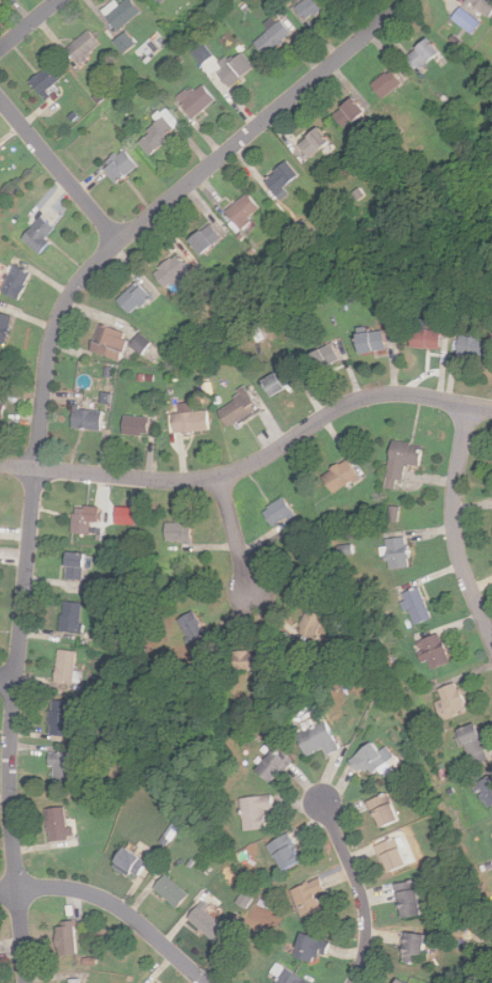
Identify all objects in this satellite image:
building: (161, 0)
building: (153, 2)
building: (482, 6)
building: (309, 8)
building: (120, 12)
building: (467, 20)
road: (29, 24)
building: (272, 38)
building: (124, 42)
building: (82, 47)
building: (422, 53)
building: (235, 67)
building: (46, 78)
building: (386, 83)
building: (196, 100)
building: (348, 112)
building: (157, 133)
building: (312, 142)
building: (118, 165)
road: (60, 171)
building: (280, 179)
building: (243, 210)
building: (44, 234)
building: (204, 239)
building: (177, 273)
building: (21, 282)
building: (132, 298)
building: (6, 327)
building: (424, 339)
building: (113, 342)
building: (371, 342)
building: (144, 343)
building: (476, 346)
building: (324, 357)
building: (280, 380)
building: (238, 407)
building: (4, 411)
road: (41, 413)
building: (91, 418)
building: (193, 422)
building: (140, 426)
building: (405, 461)
road: (254, 462)
building: (344, 476)
building: (277, 511)
building: (127, 515)
building: (87, 518)
road: (452, 526)
building: (178, 532)
road: (235, 535)
building: (402, 553)
building: (74, 564)
building: (415, 605)
building: (71, 617)
building: (310, 623)
building: (191, 626)
building: (433, 650)
building: (246, 660)
building: (65, 666)
road: (8, 680)
building: (450, 701)
building: (61, 717)
building: (317, 739)
building: (472, 744)
building: (367, 758)
building: (272, 765)
building: (62, 768)
building: (487, 790)
building: (382, 810)
building: (255, 811)
building: (56, 823)
building: (284, 851)
building: (391, 854)
building: (129, 861)
road: (359, 889)
building: (169, 890)
building: (308, 895)
building: (407, 898)
road: (116, 904)
building: (205, 920)
building: (65, 937)
building: (411, 947)
building: (310, 948)
building: (289, 977)
building: (71, 981)
building: (401, 981)

